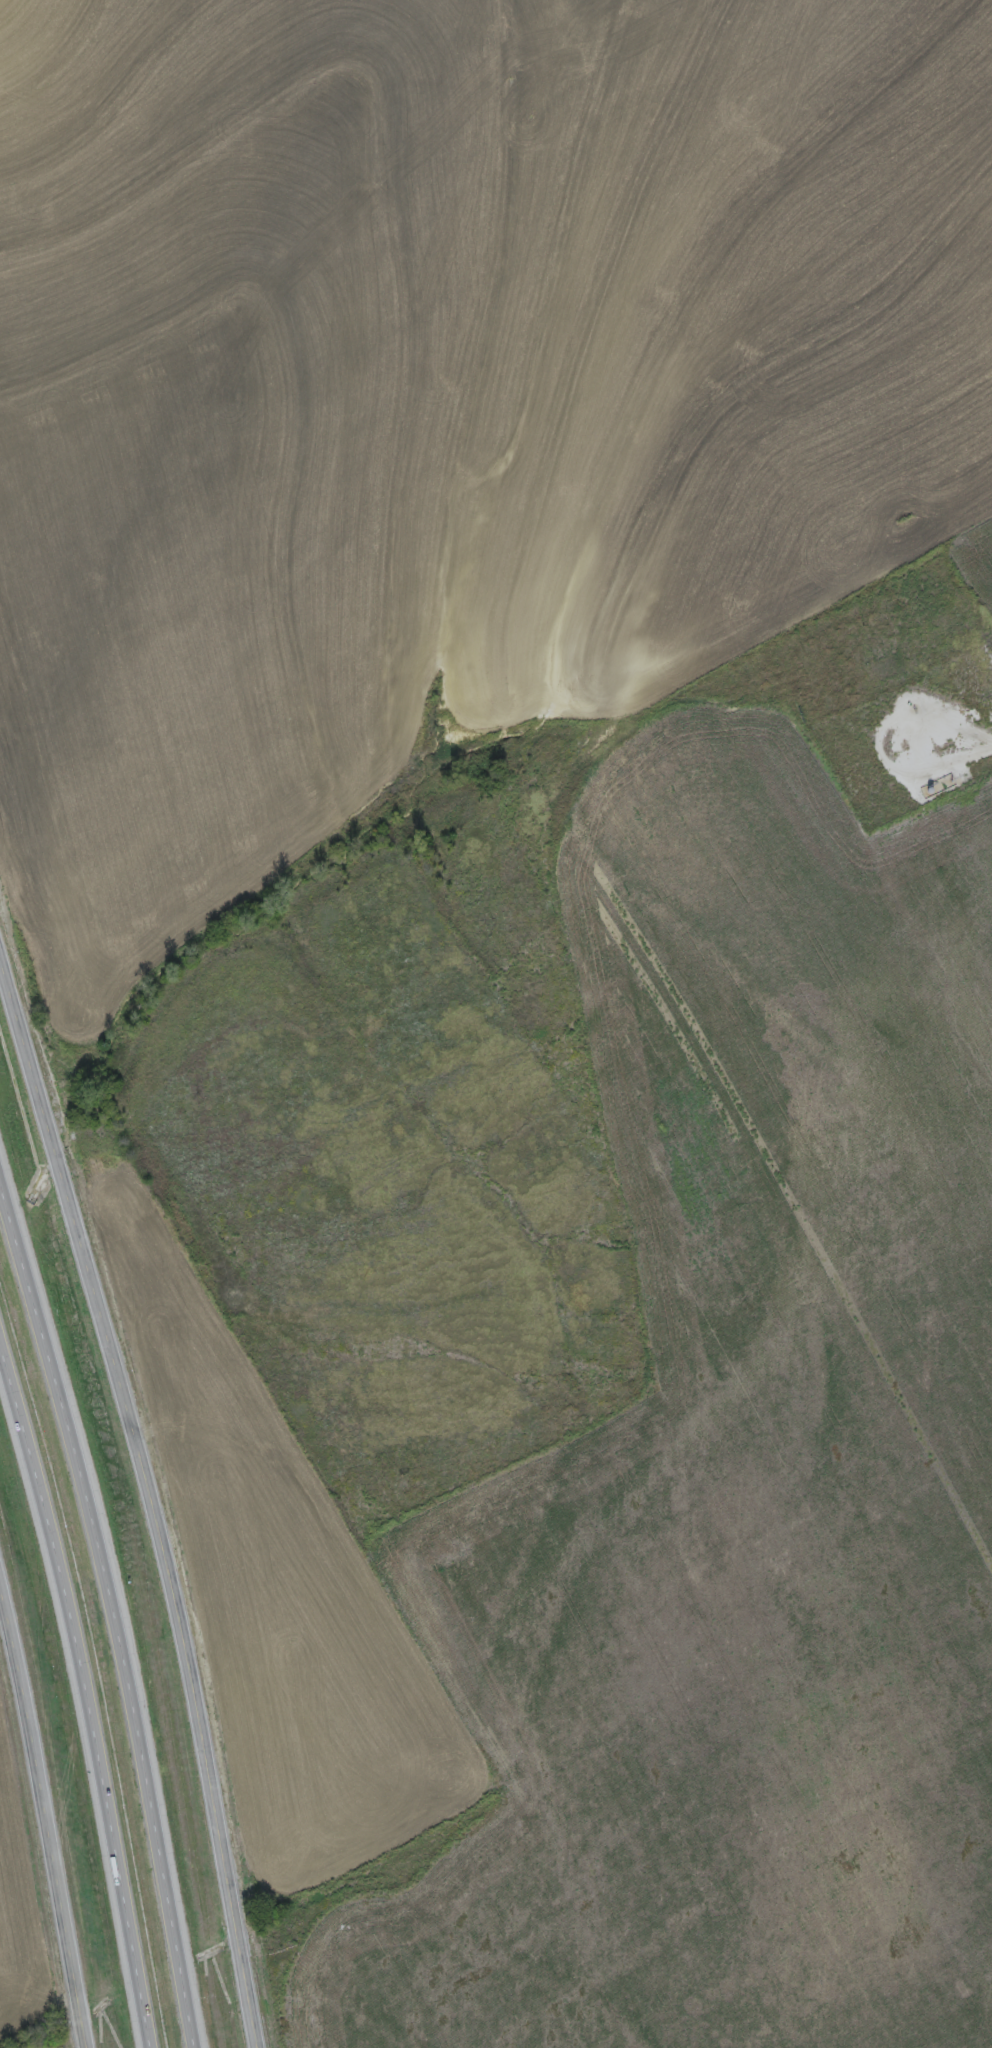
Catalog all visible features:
road: (721, 80)
road: (781, 226)
road: (554, 698)
road: (155, 1495)
road: (112, 1610)
road: (85, 1692)
road: (47, 1813)

